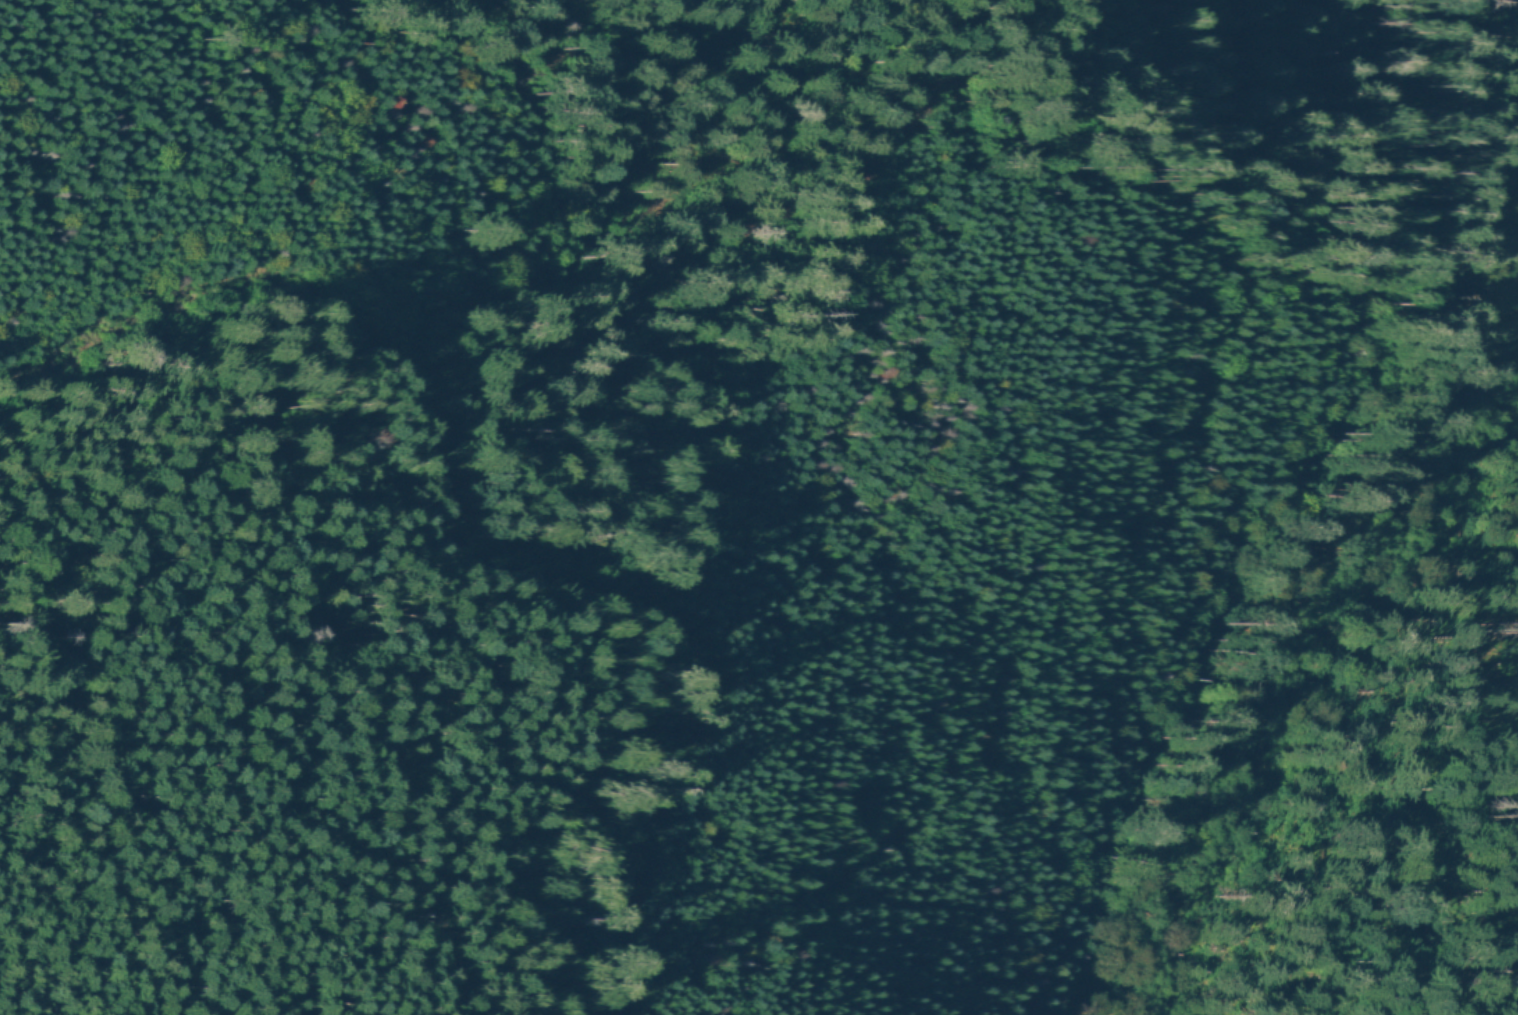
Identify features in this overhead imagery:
road: (1454, 166)
road: (1490, 938)

